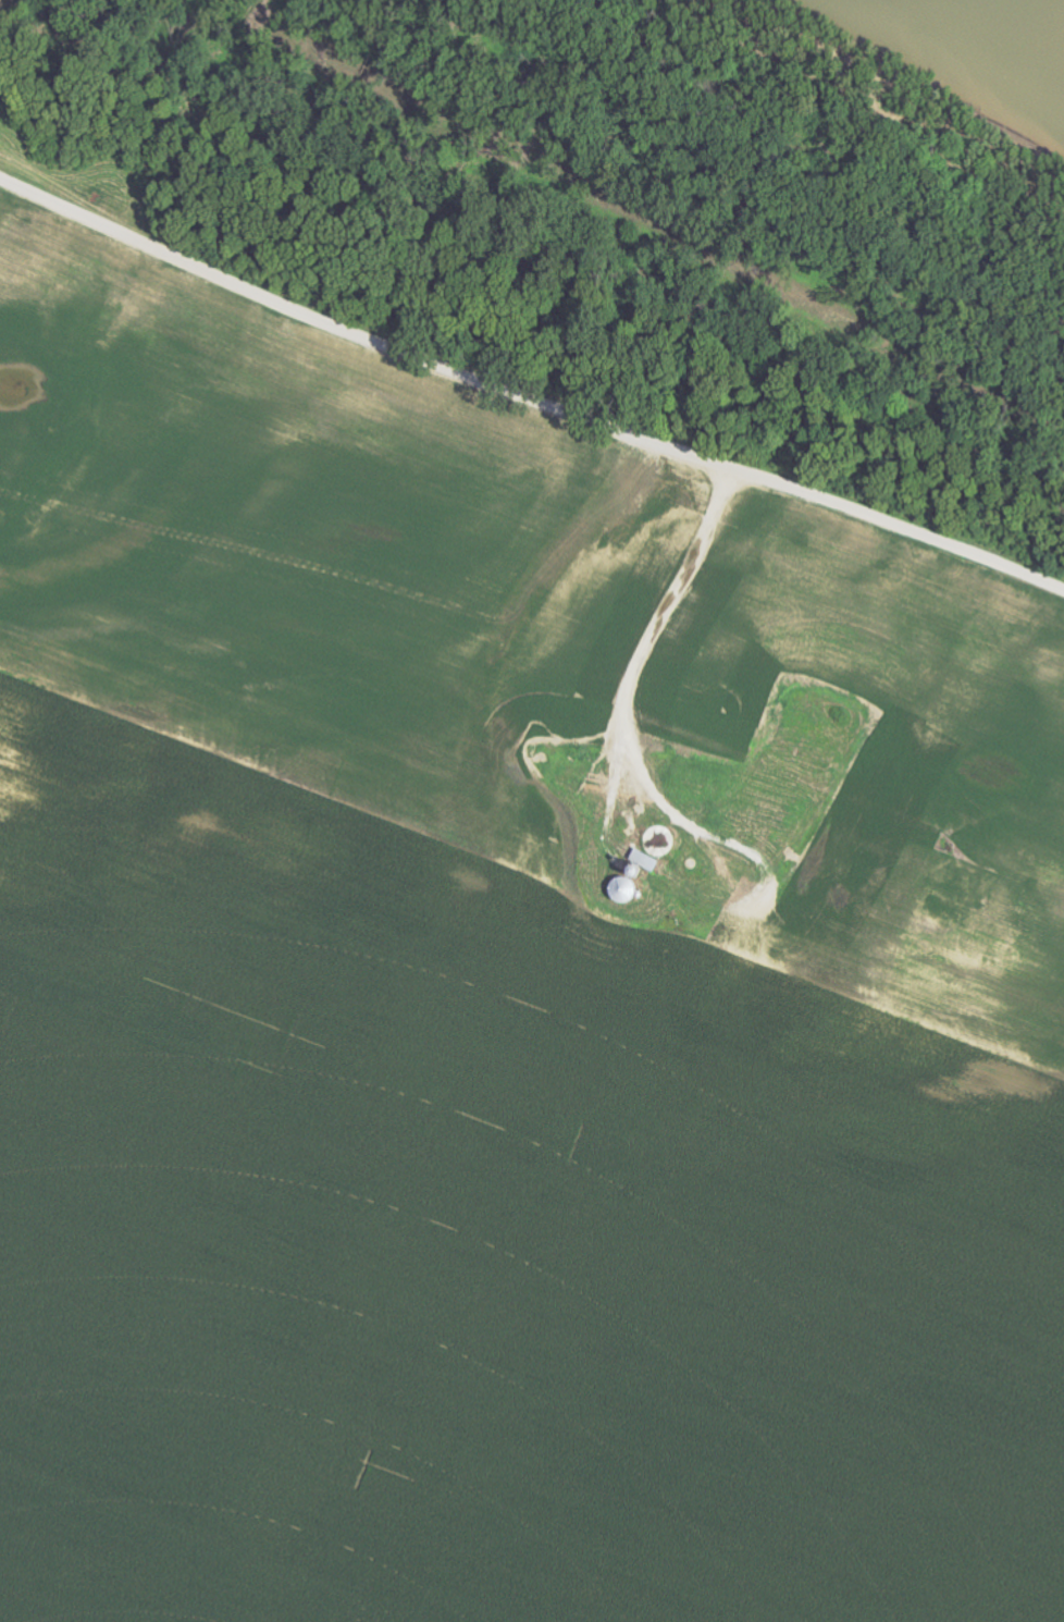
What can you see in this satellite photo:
road: (524, 402)
road: (610, 789)

